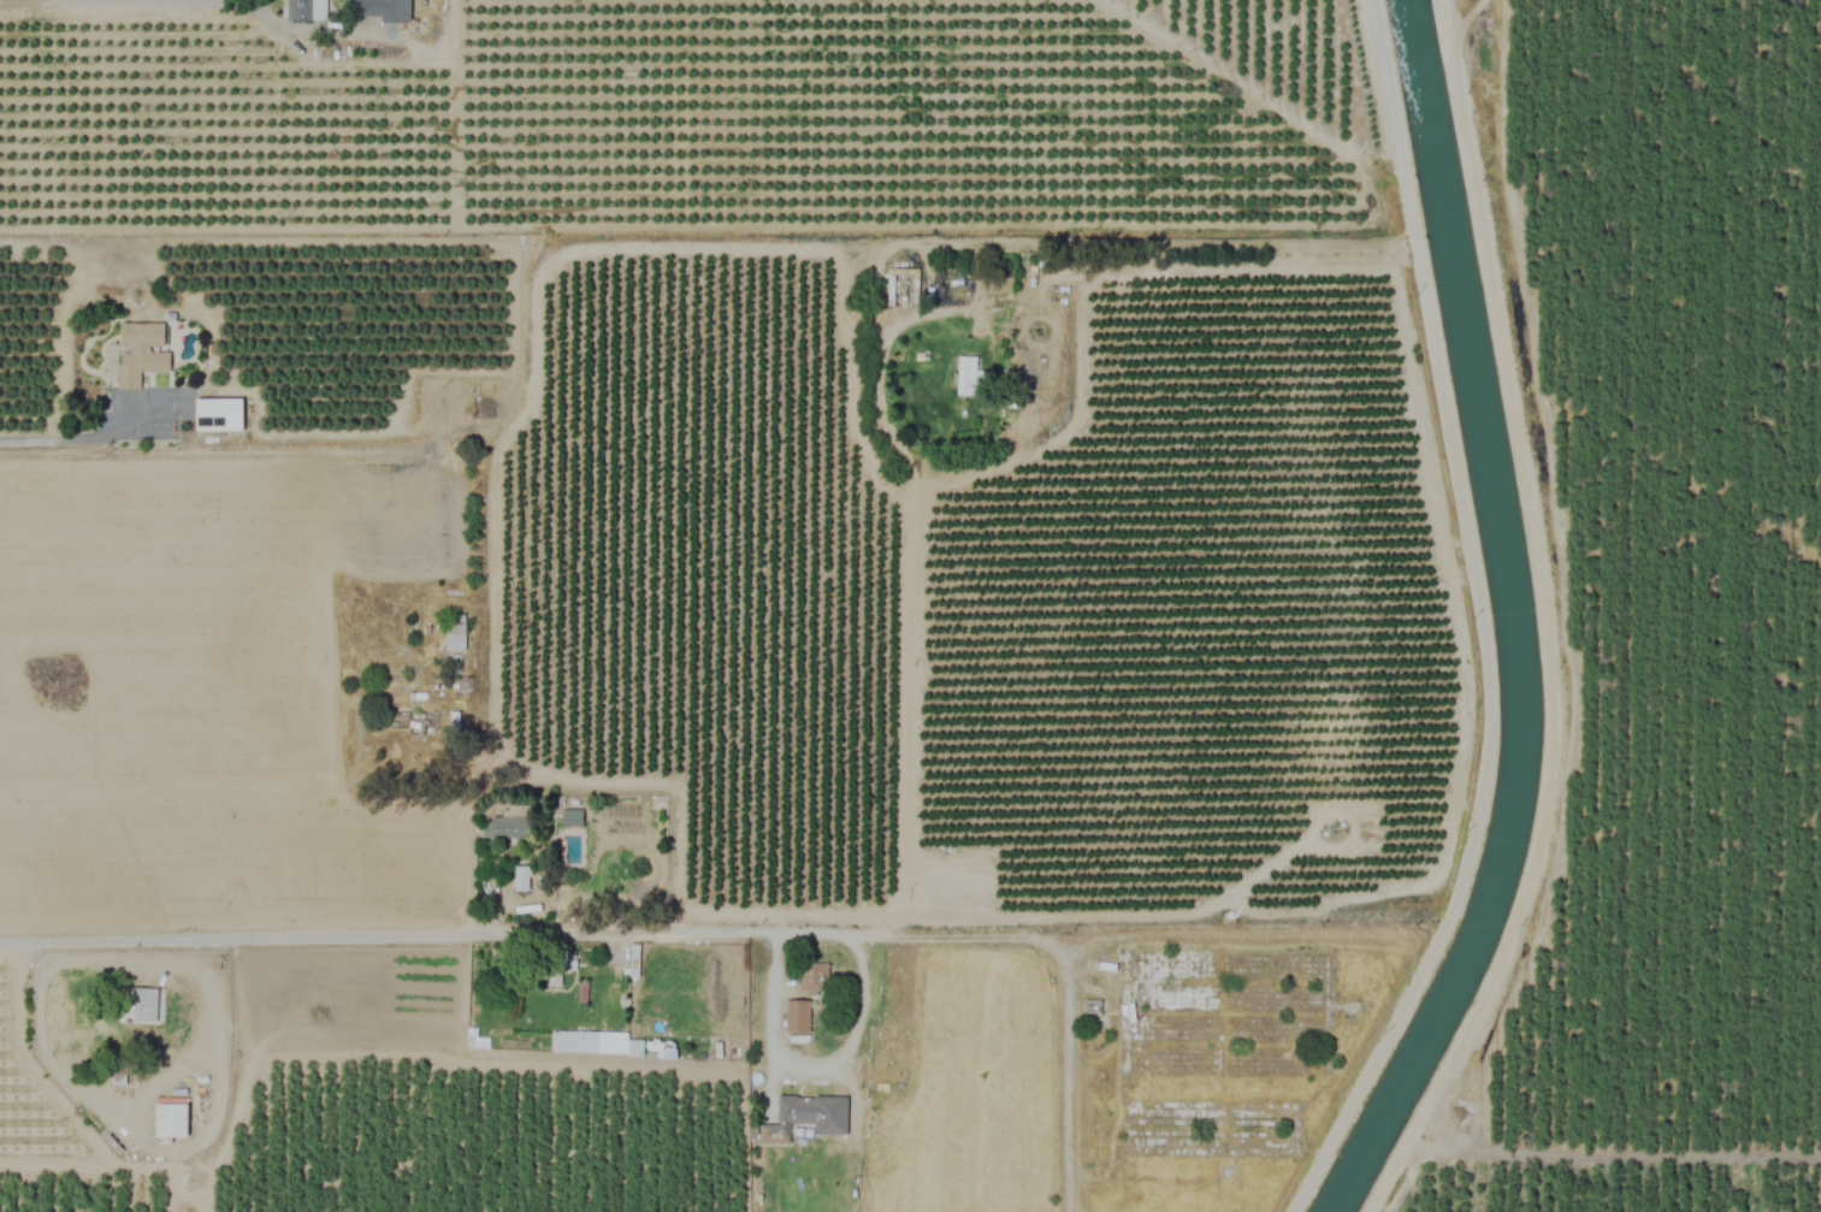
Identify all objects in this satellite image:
road: (184, 1)
building: (303, 10)
building: (383, 10)
building: (142, 353)
building: (966, 376)
building: (219, 414)
road: (72, 439)
building: (456, 633)
building: (573, 818)
building: (510, 824)
building: (521, 879)
road: (776, 932)
building: (633, 960)
building: (814, 976)
building: (477, 988)
building: (147, 1004)
building: (678, 1004)
building: (796, 1016)
building: (200, 1063)
road: (809, 1065)
road: (120, 1105)
building: (172, 1119)
building: (796, 1119)

